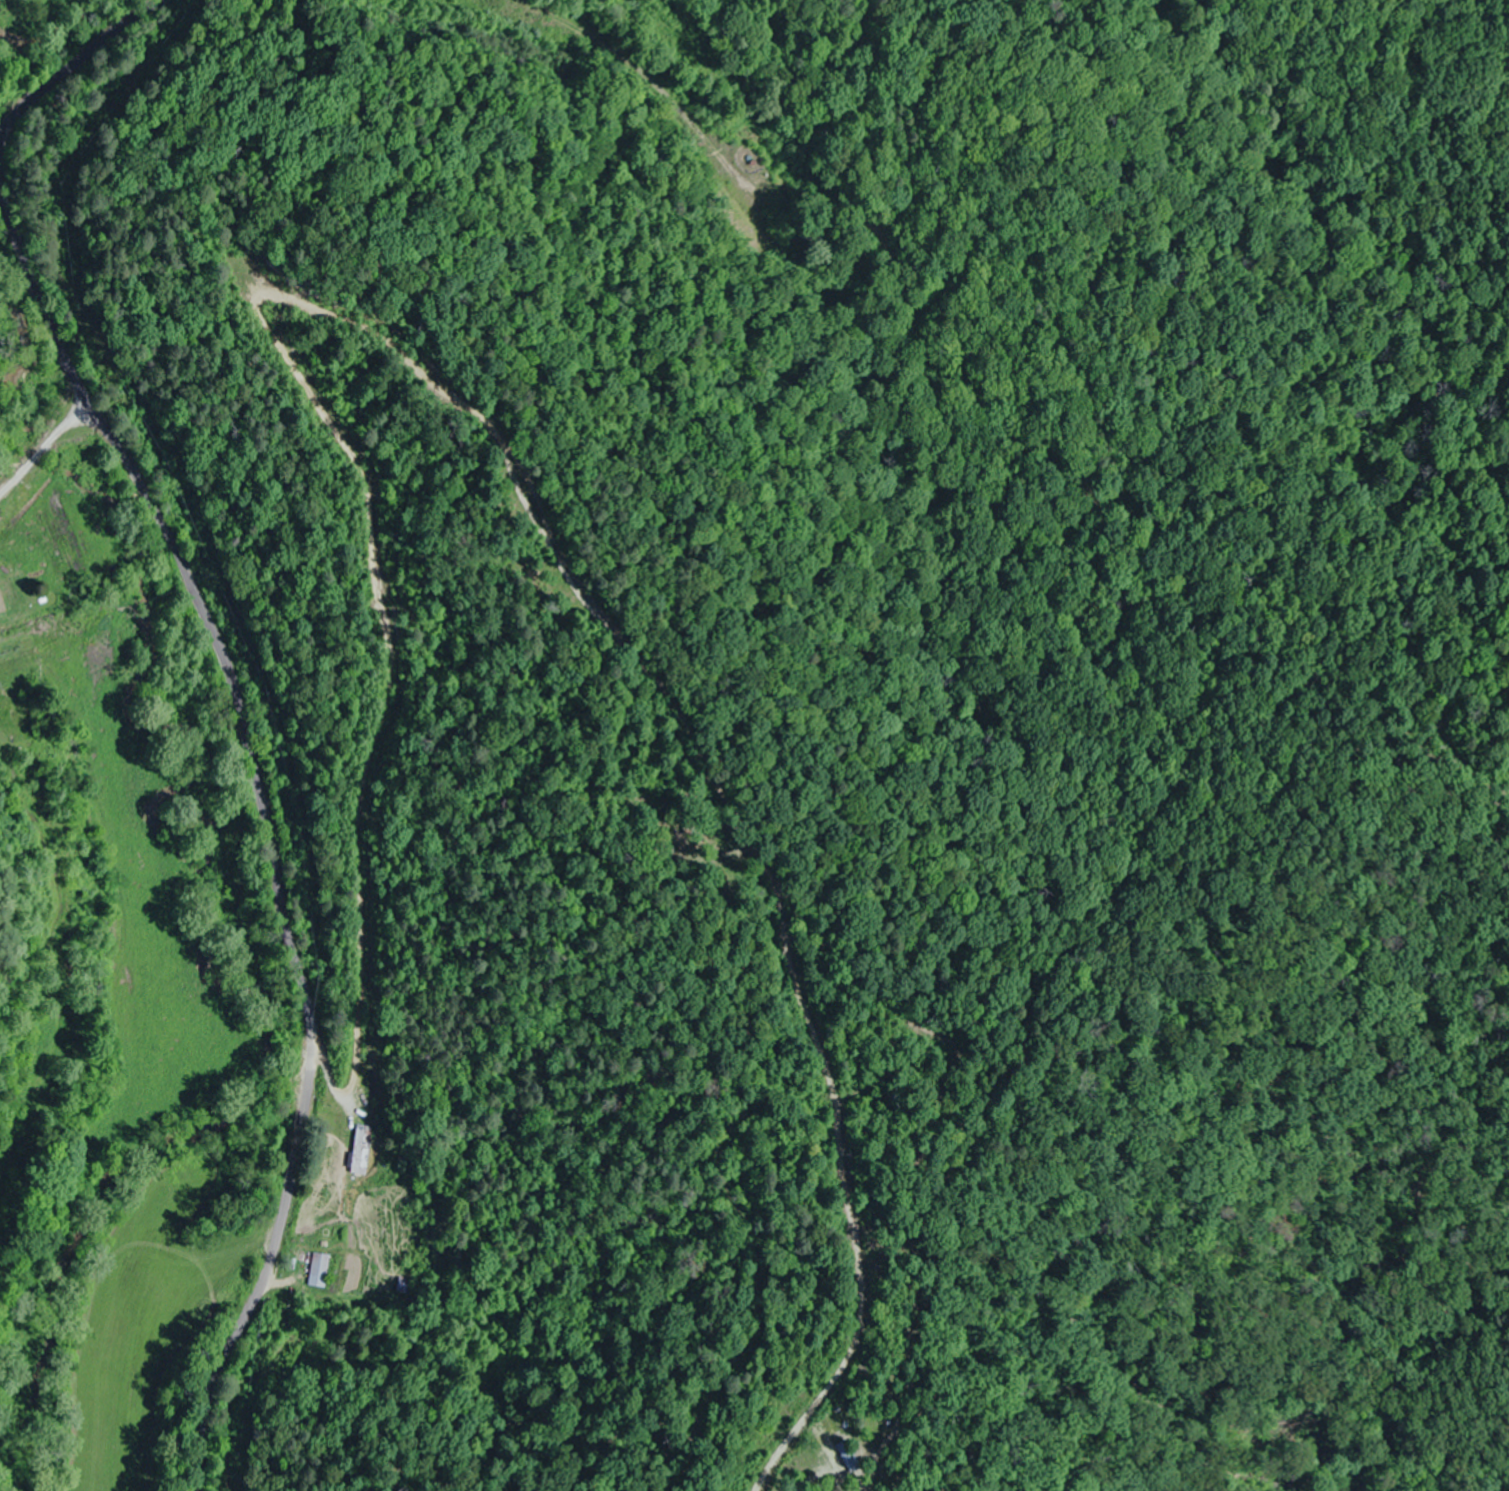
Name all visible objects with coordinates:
road: (75, 61)
road: (264, 823)
building: (359, 1149)
building: (337, 1268)
building: (317, 1270)
building: (402, 1284)
building: (843, 1457)

